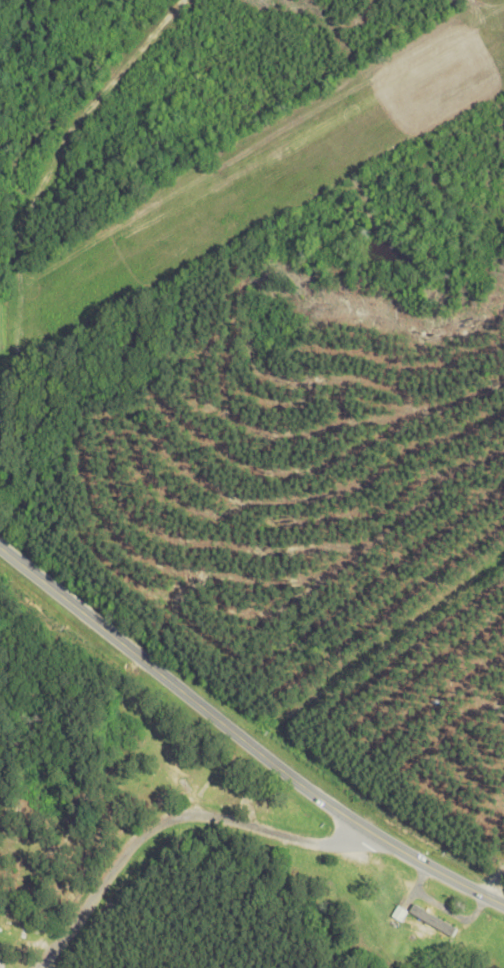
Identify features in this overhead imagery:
road: (244, 734)
road: (252, 827)
road: (91, 901)
building: (415, 918)
building: (3, 959)

